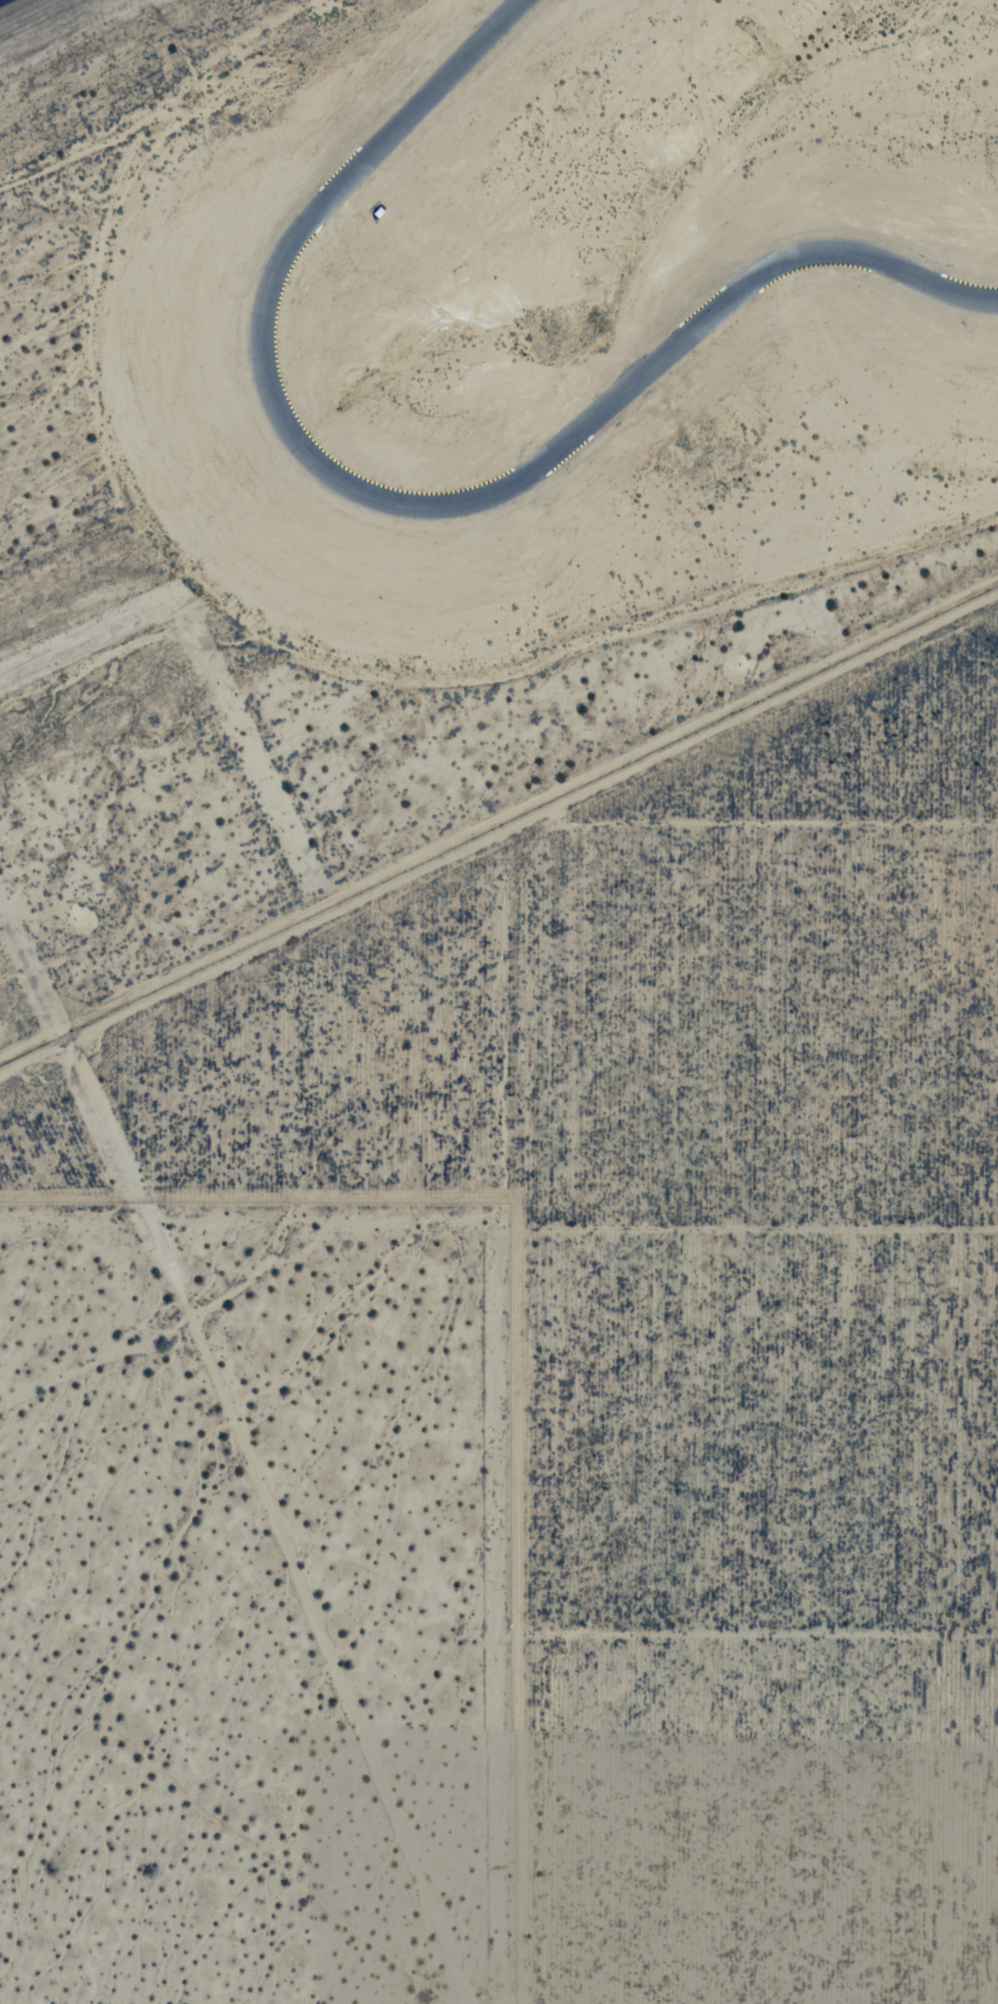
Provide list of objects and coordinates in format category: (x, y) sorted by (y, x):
airport: (89, 44)
raceway: (412, 503)
crop: (532, 1409)

